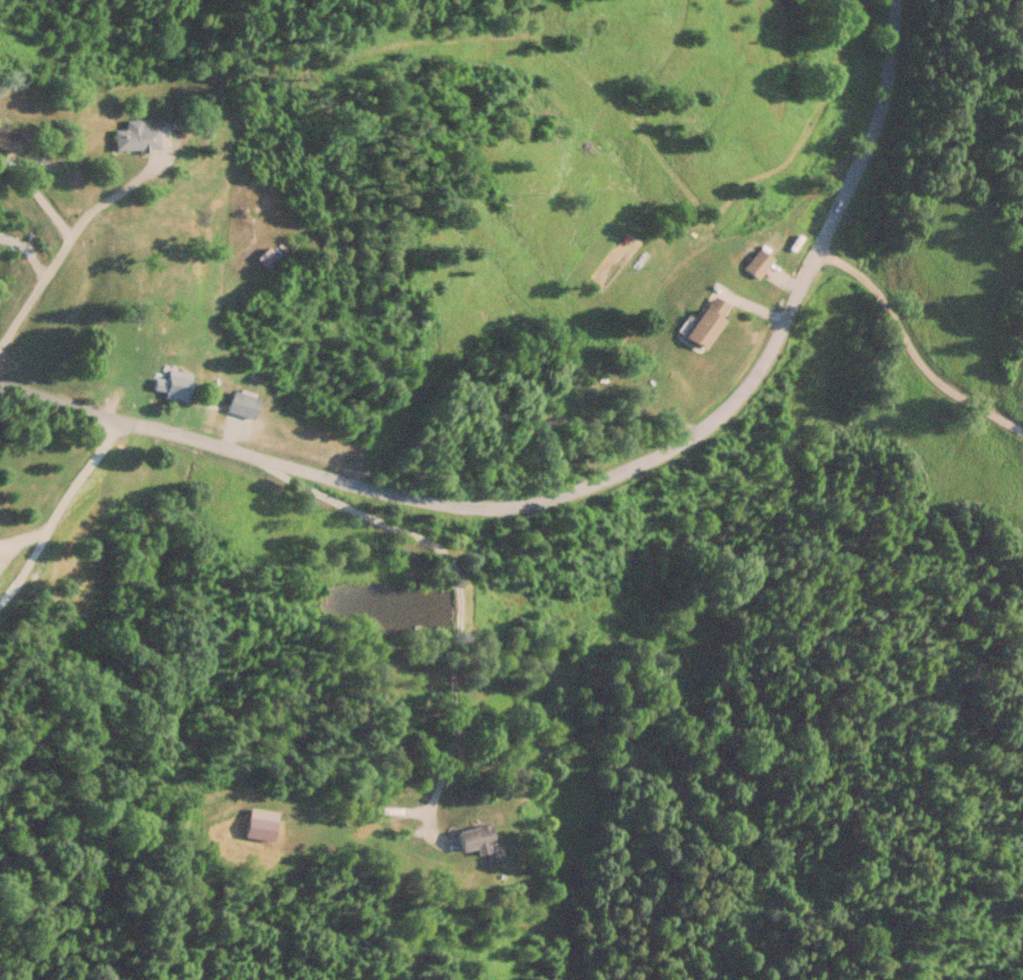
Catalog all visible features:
road: (894, 83)
road: (69, 238)
road: (910, 349)
road: (508, 508)
road: (59, 510)
road: (462, 608)

